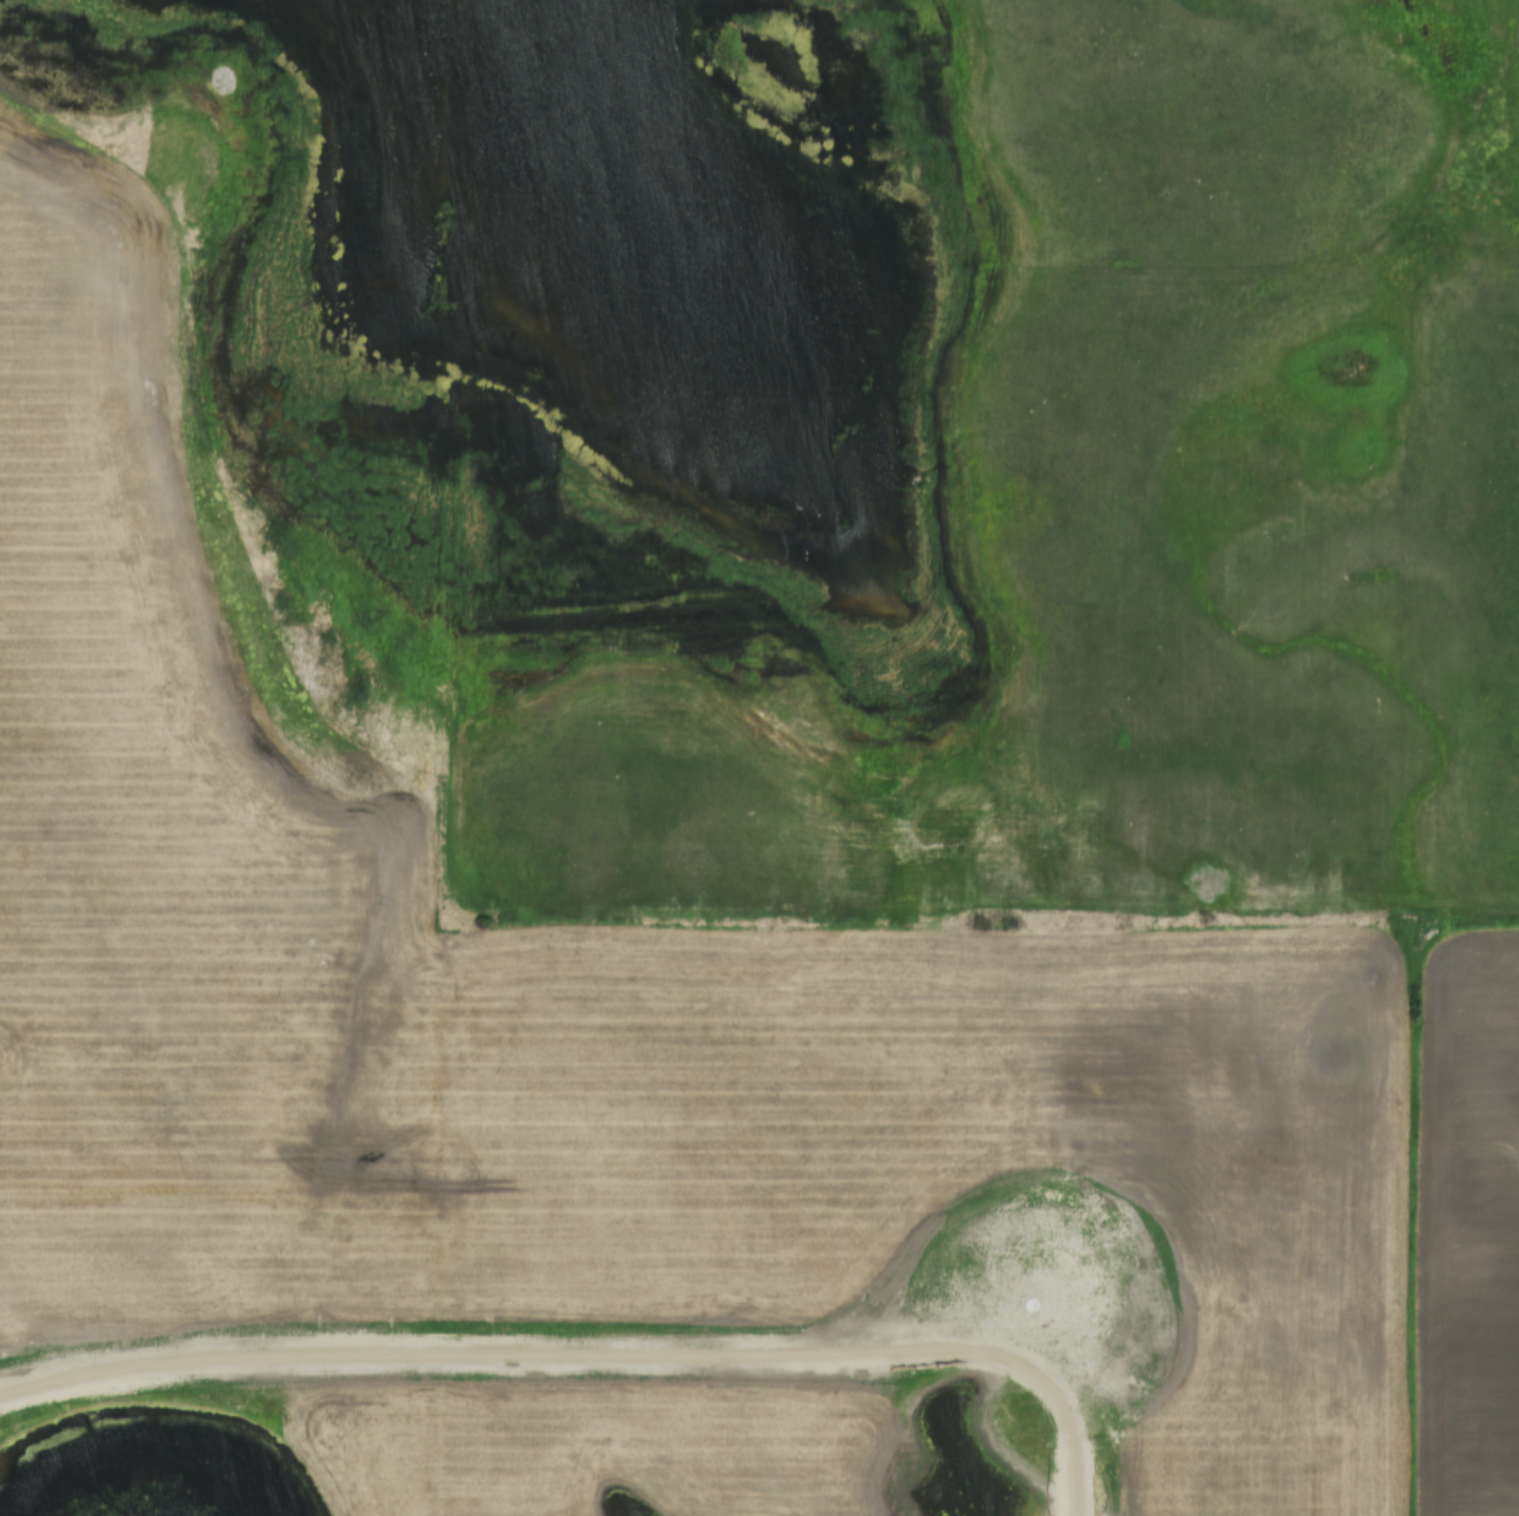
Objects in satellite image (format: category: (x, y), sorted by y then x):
wind turbine: (1040, 1305)

